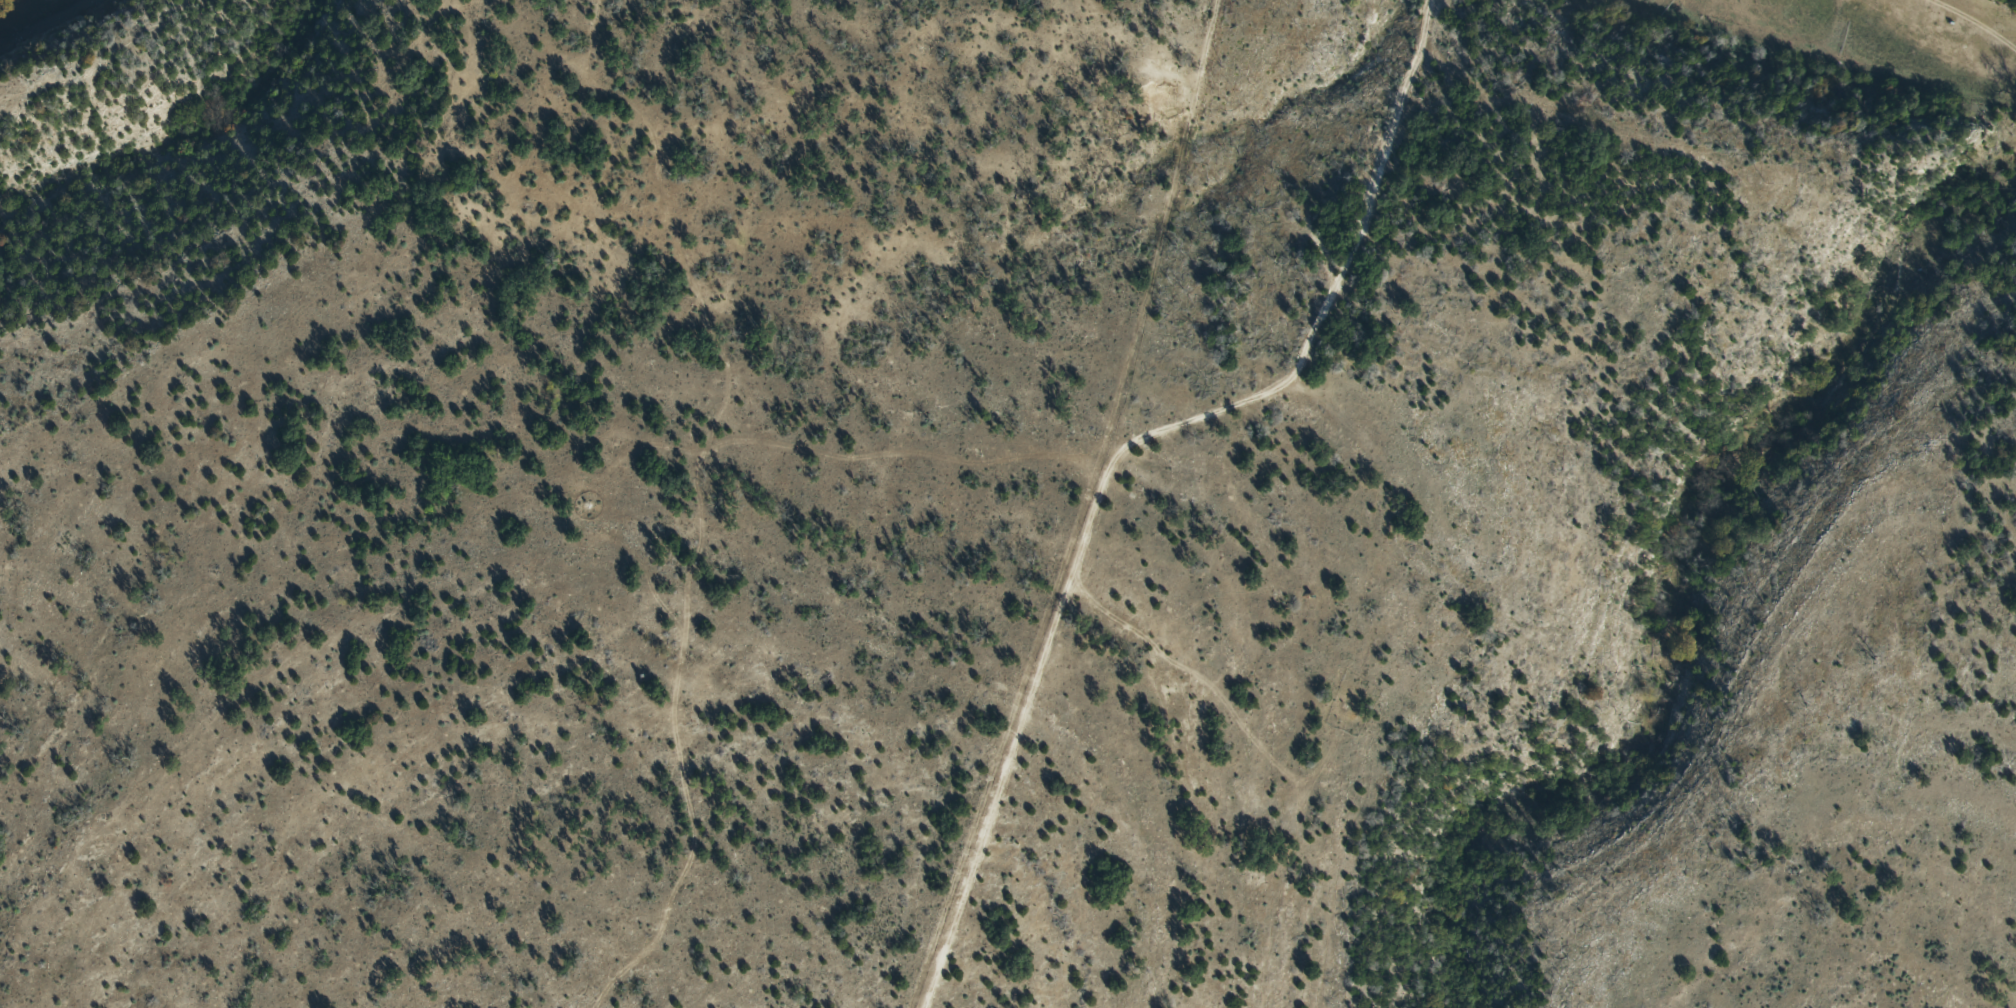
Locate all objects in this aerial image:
road: (1166, 476)
road: (711, 512)

